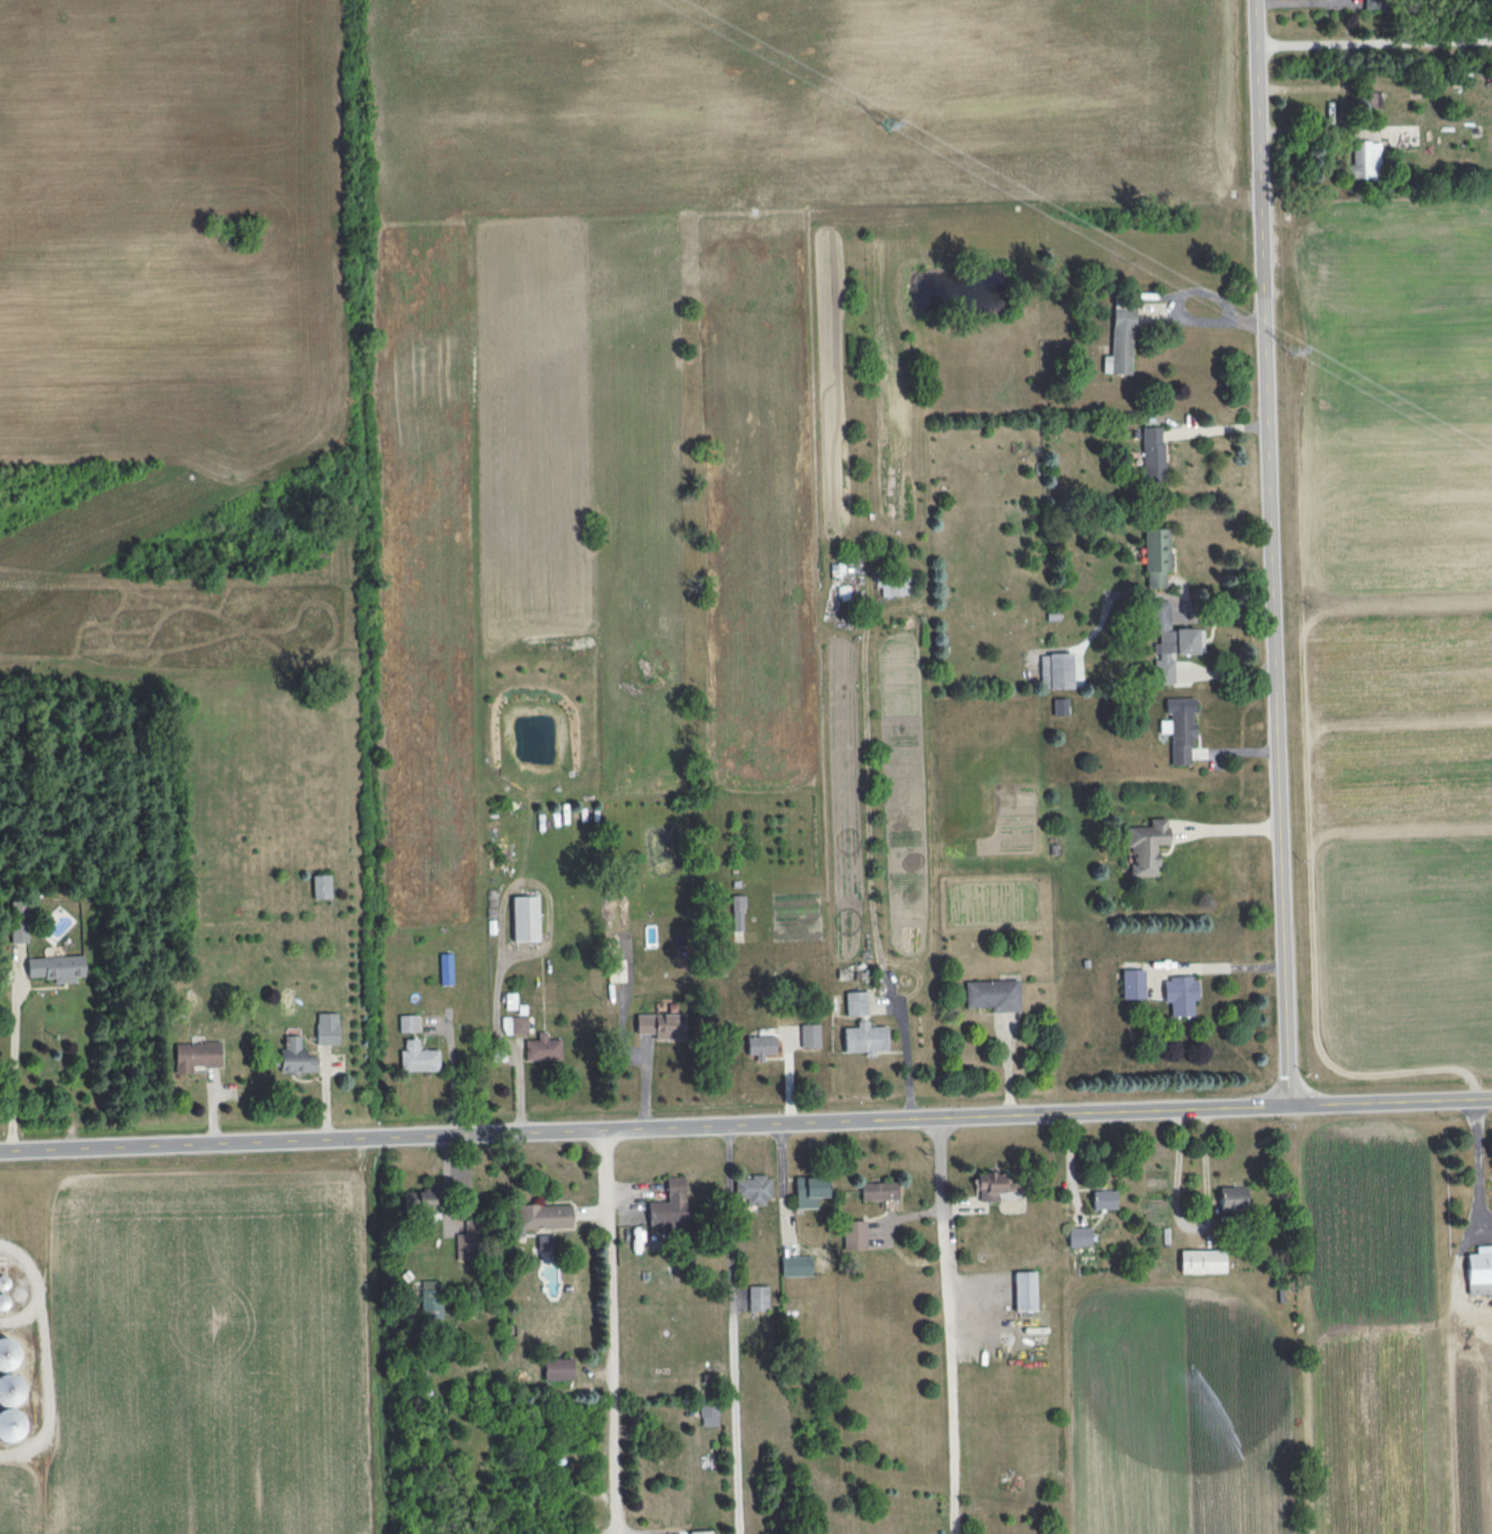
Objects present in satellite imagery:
road: (1374, 42)
building: (1372, 99)
power tower: (882, 128)
building: (1364, 160)
road: (1200, 321)
building: (1120, 342)
power tower: (1287, 354)
road: (1216, 430)
building: (1152, 453)
road: (1273, 552)
building: (1156, 556)
building: (896, 585)
building: (1170, 641)
building: (1056, 670)
building: (1060, 706)
building: (1179, 729)
road: (1226, 823)
building: (1144, 847)
building: (321, 886)
building: (738, 912)
building: (17, 918)
building: (523, 919)
road: (1231, 960)
building: (55, 965)
building: (446, 968)
building: (616, 970)
building: (1132, 983)
building: (1180, 994)
building: (990, 995)
building: (856, 1003)
building: (408, 1023)
building: (514, 1025)
building: (662, 1025)
building: (327, 1028)
building: (809, 1035)
building: (864, 1038)
road: (12, 1043)
building: (760, 1046)
building: (542, 1048)
building: (196, 1055)
building: (415, 1056)
building: (296, 1057)
road: (903, 1061)
road: (1004, 1063)
road: (745, 1123)
road: (1477, 1175)
building: (753, 1189)
building: (809, 1190)
building: (879, 1190)
building: (1232, 1198)
building: (420, 1199)
building: (1103, 1199)
building: (669, 1205)
building: (544, 1215)
road: (1484, 1219)
road: (1192, 1227)
building: (854, 1234)
building: (1079, 1236)
building: (466, 1242)
building: (544, 1242)
building: (1202, 1260)
building: (795, 1265)
building: (1478, 1269)
building: (1024, 1290)
building: (758, 1297)
building: (430, 1298)
road: (19, 1314)
road: (944, 1325)
road: (729, 1329)
road: (608, 1331)
road: (1471, 1350)
building: (8, 1354)
road: (41, 1356)
building: (558, 1368)
building: (11, 1389)
road: (1451, 1390)
building: (709, 1415)
building: (11, 1424)
building: (700, 1532)

